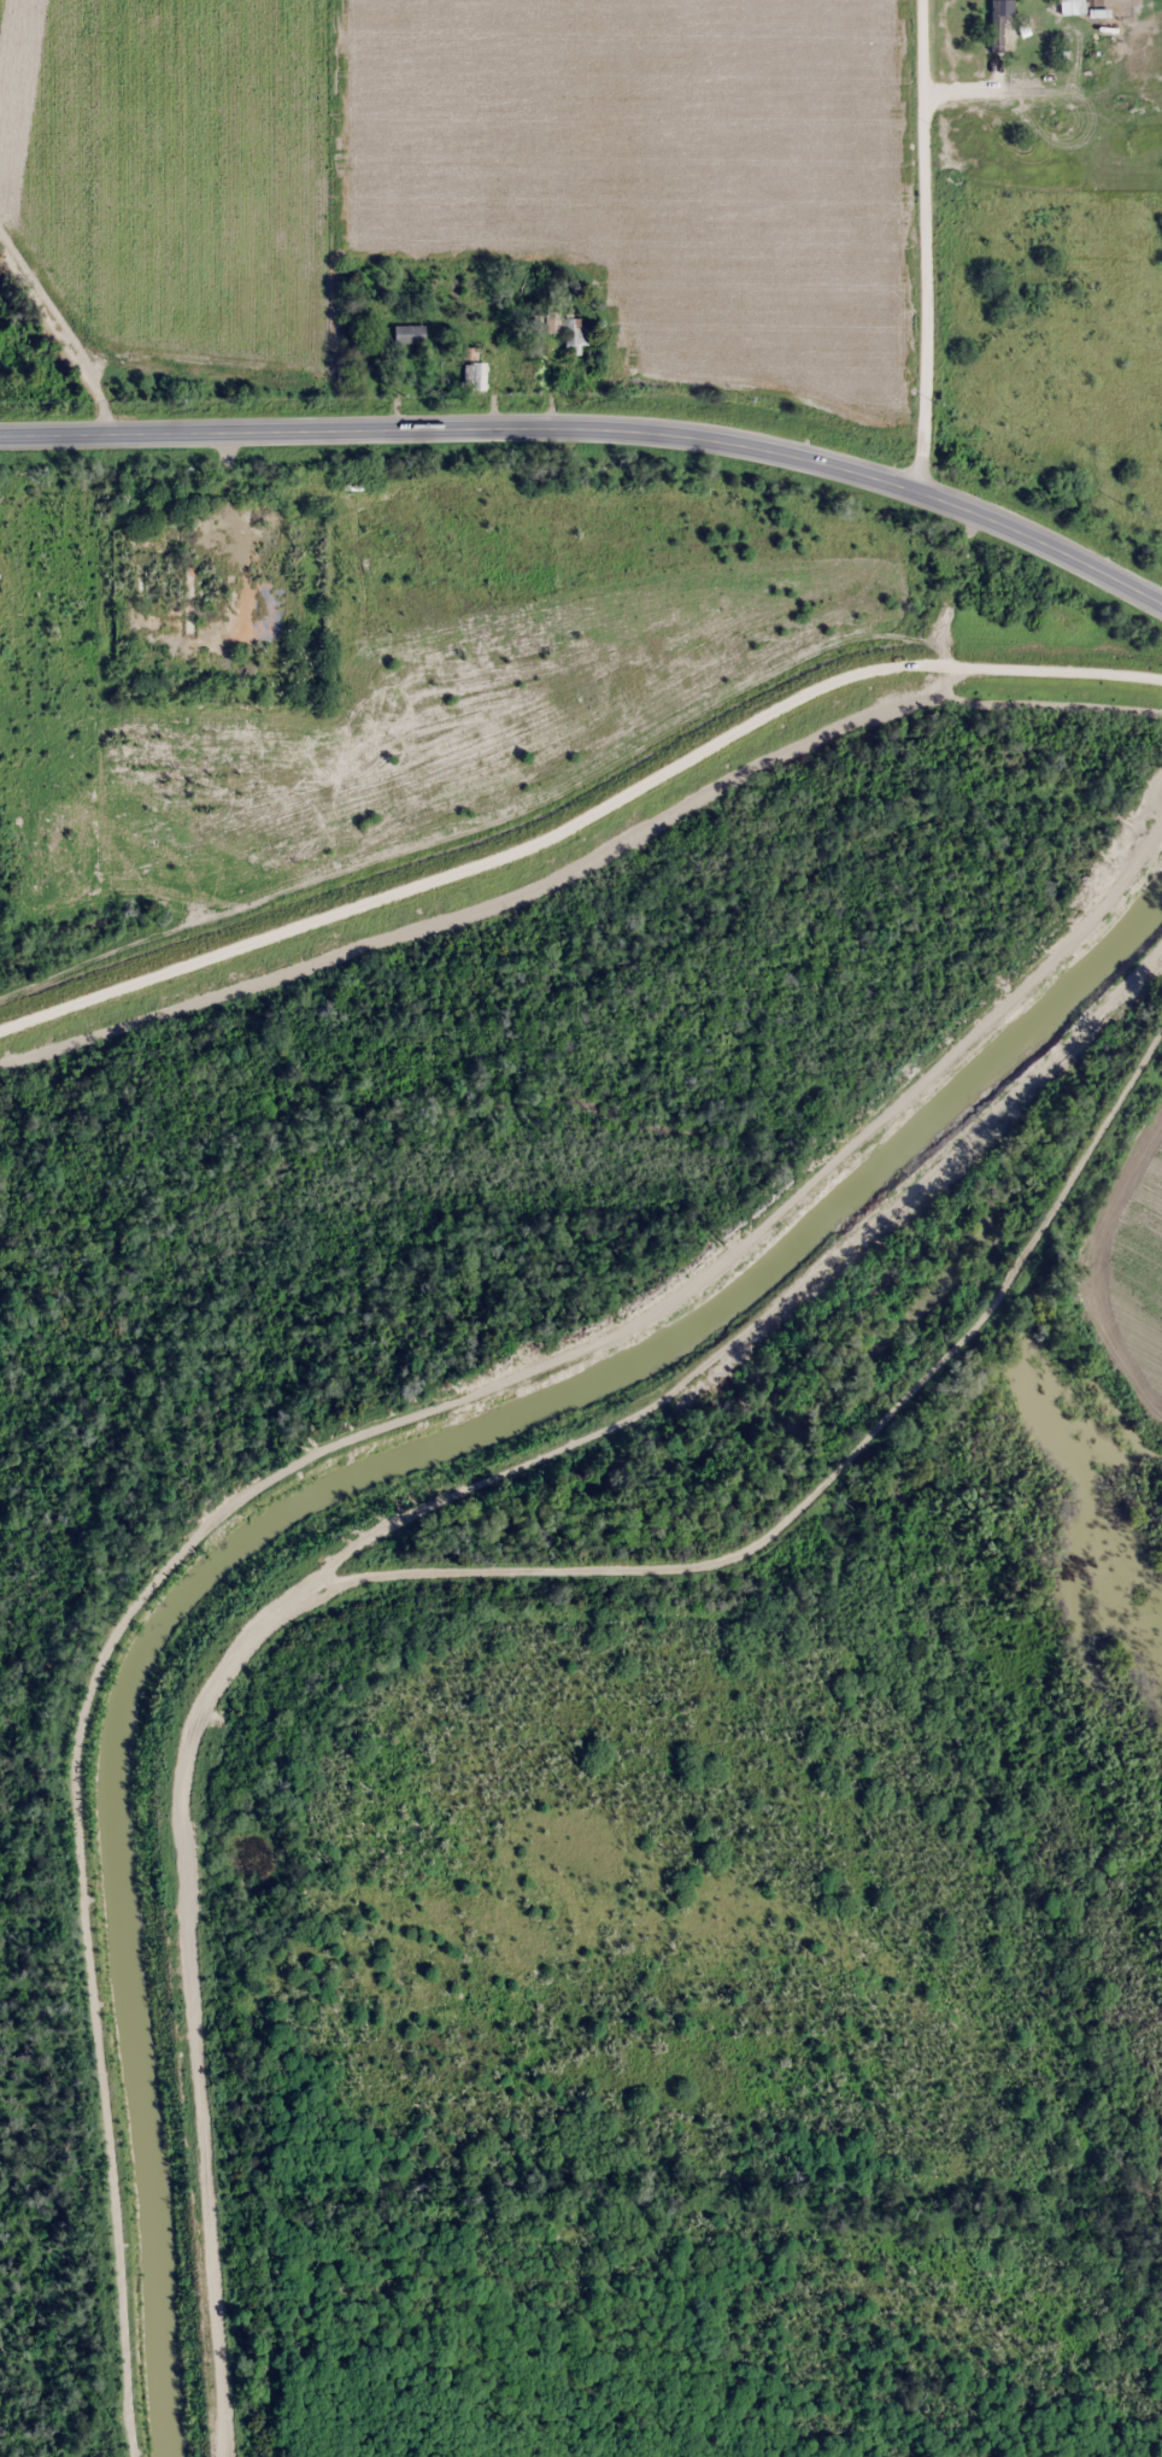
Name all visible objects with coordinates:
road: (920, 244)
road: (66, 301)
building: (565, 330)
building: (407, 333)
building: (474, 375)
road: (463, 428)
road: (1043, 538)
river: (1032, 1302)

